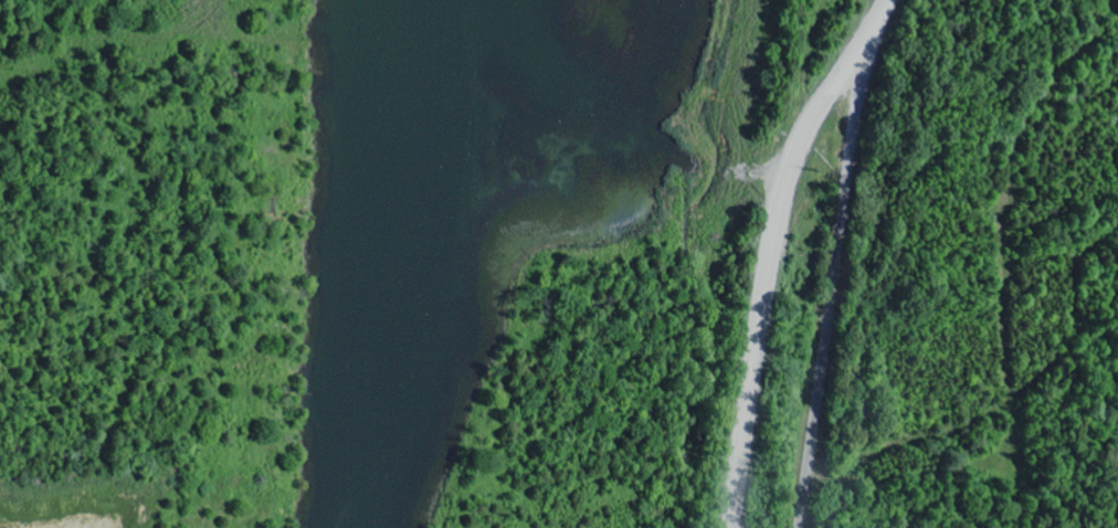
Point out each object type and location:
road: (836, 262)

